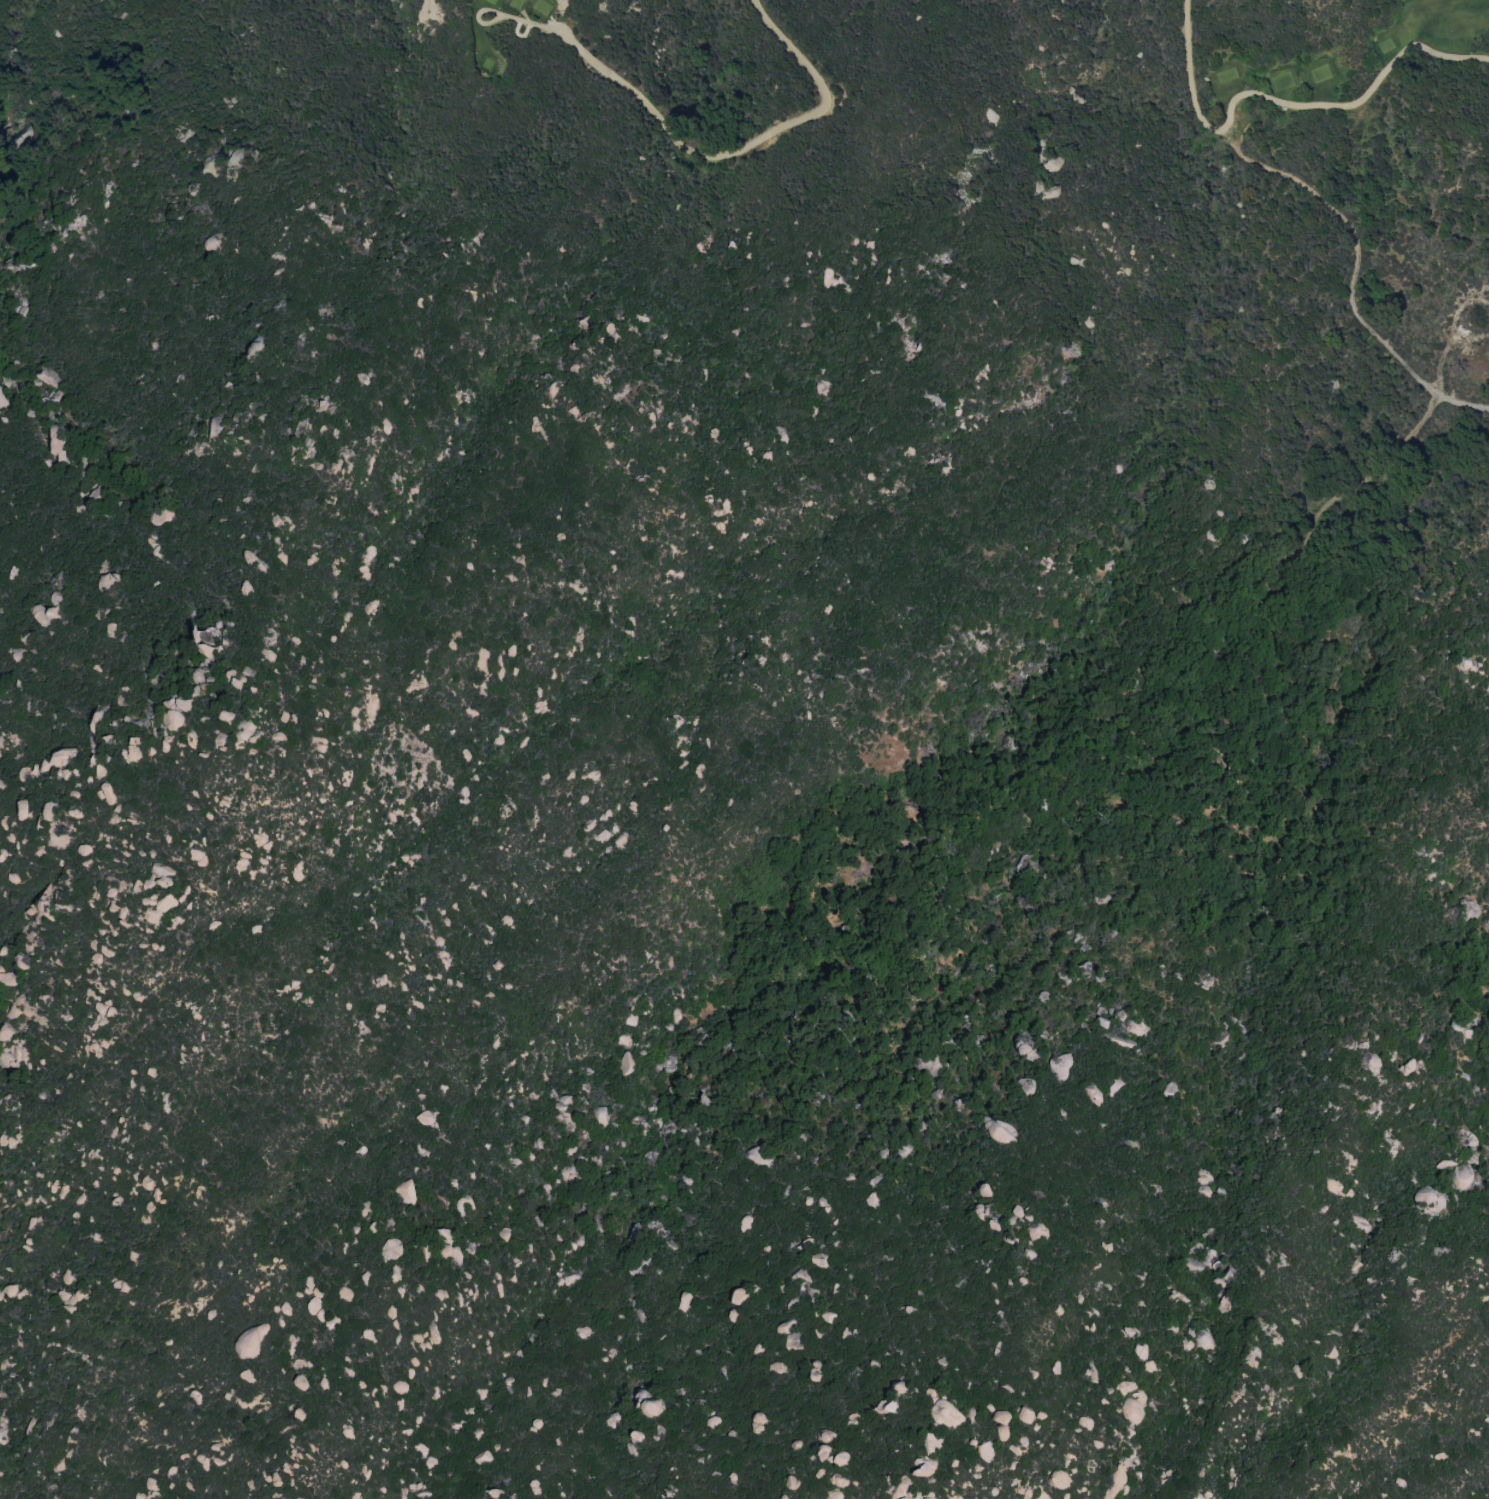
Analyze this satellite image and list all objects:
park: (555, 36)
park: (1386, 46)
park: (1320, 69)
road: (1284, 103)
road: (677, 139)
road: (1356, 274)

